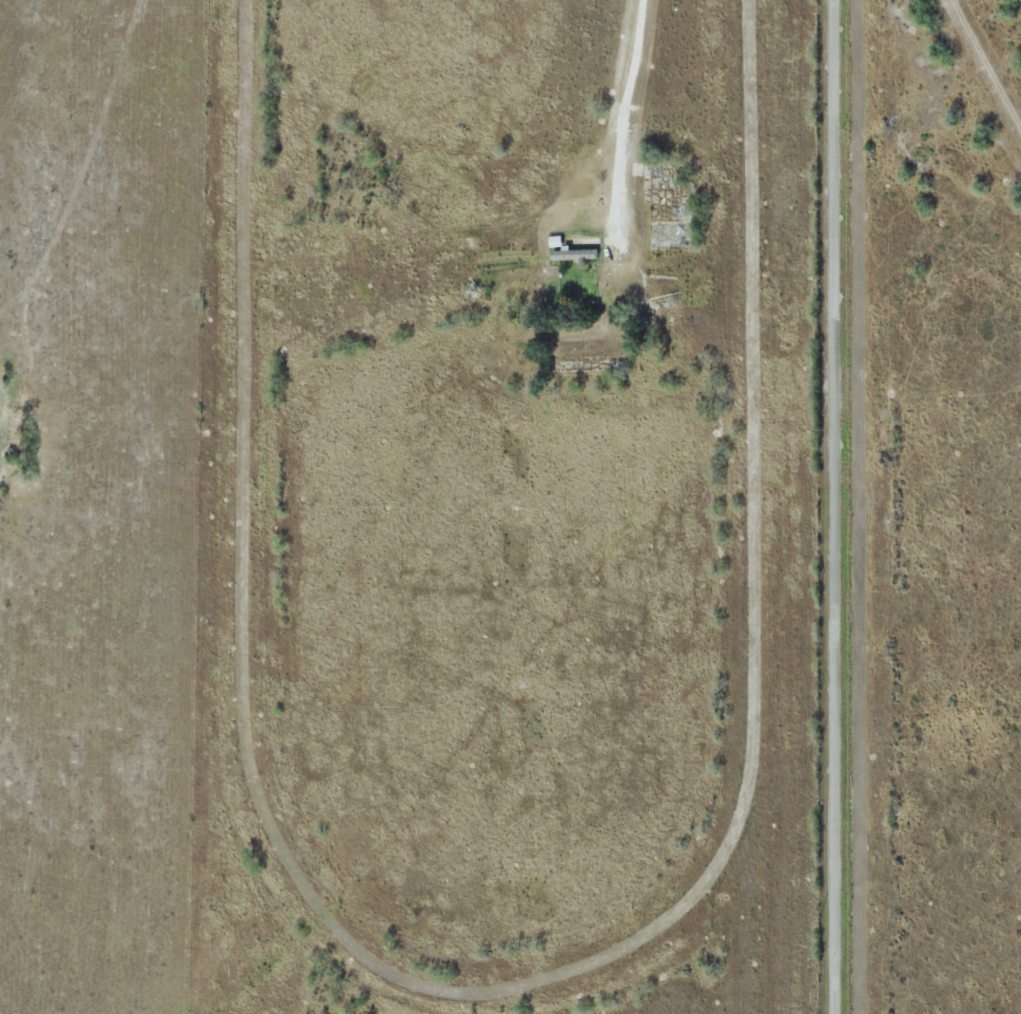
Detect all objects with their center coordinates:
road: (982, 71)
road: (622, 129)
building: (576, 280)
road: (836, 507)

